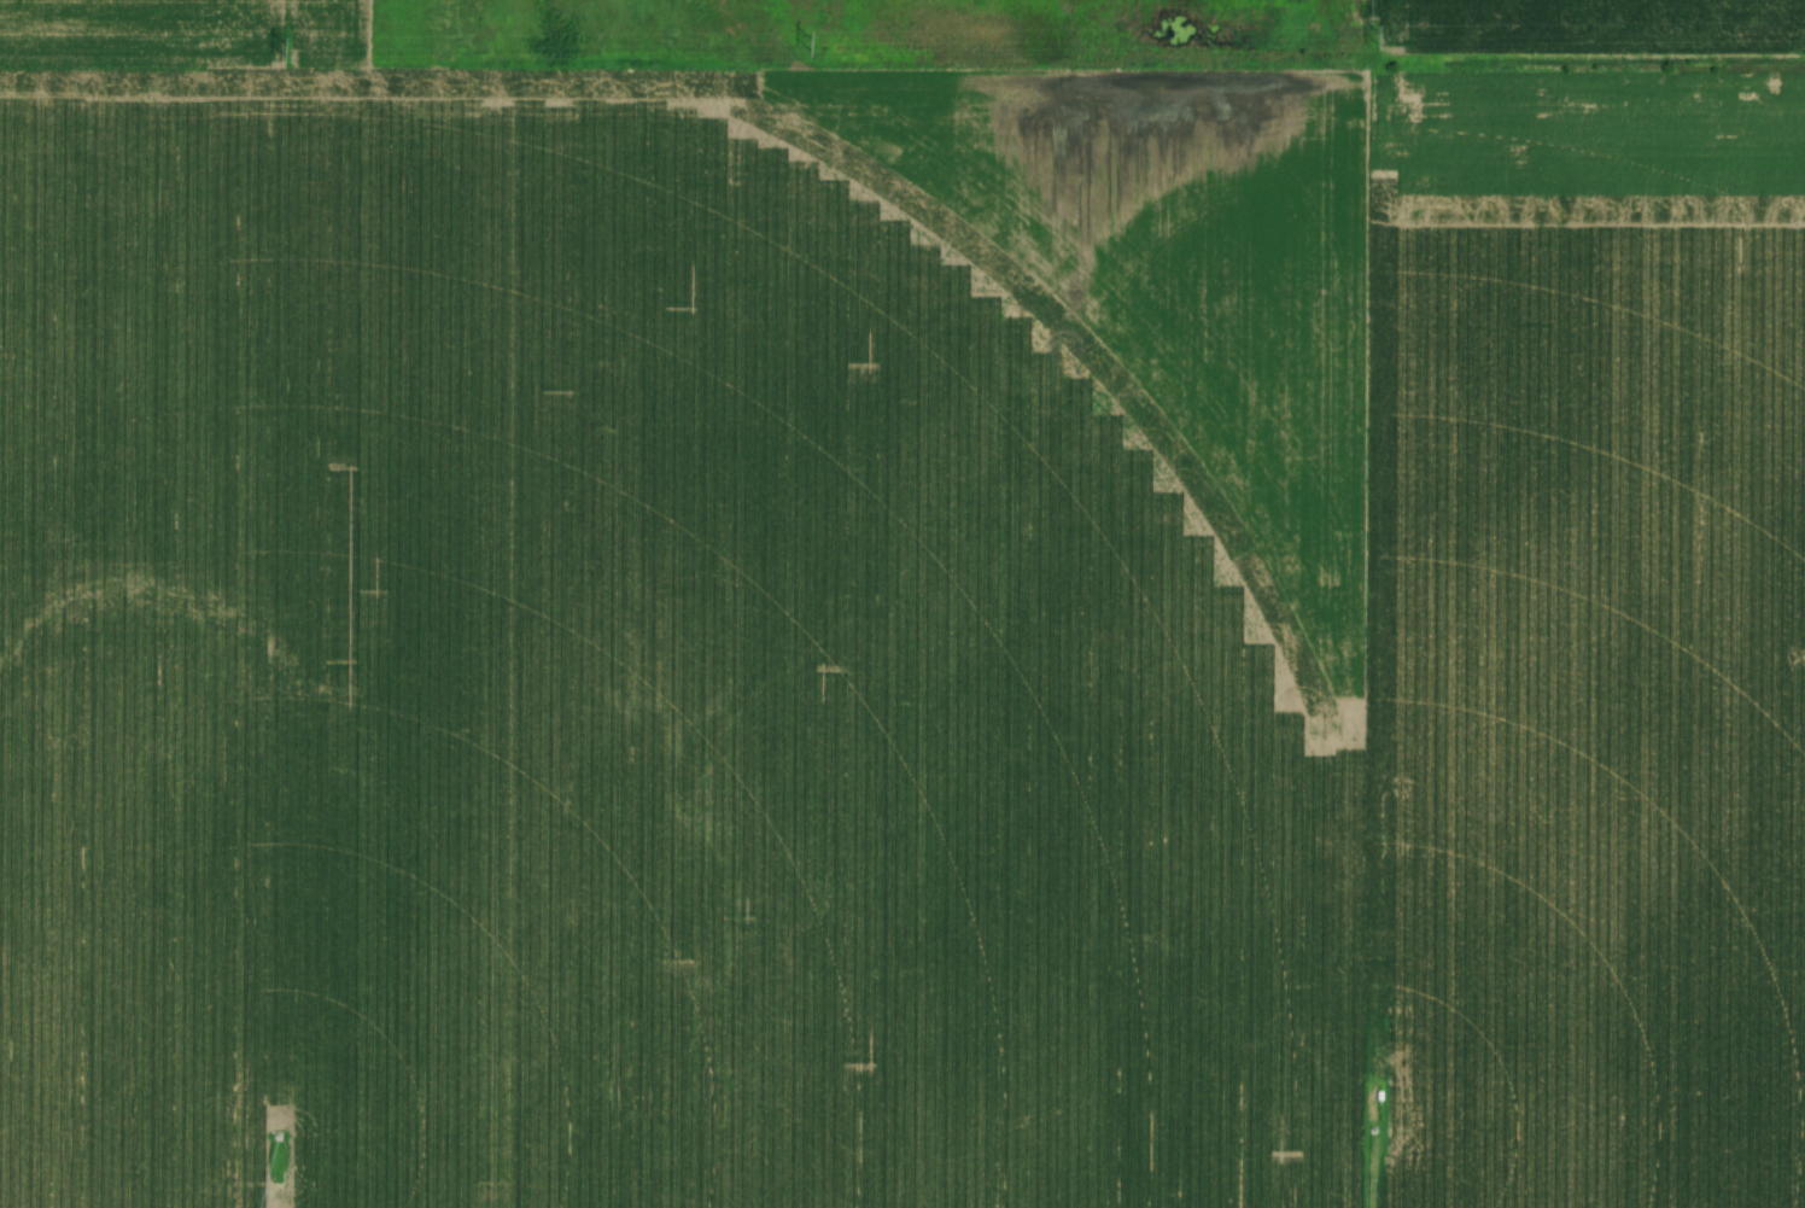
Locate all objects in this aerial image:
power tower: (1378, 39)
power tower: (810, 45)
power tower: (285, 52)

